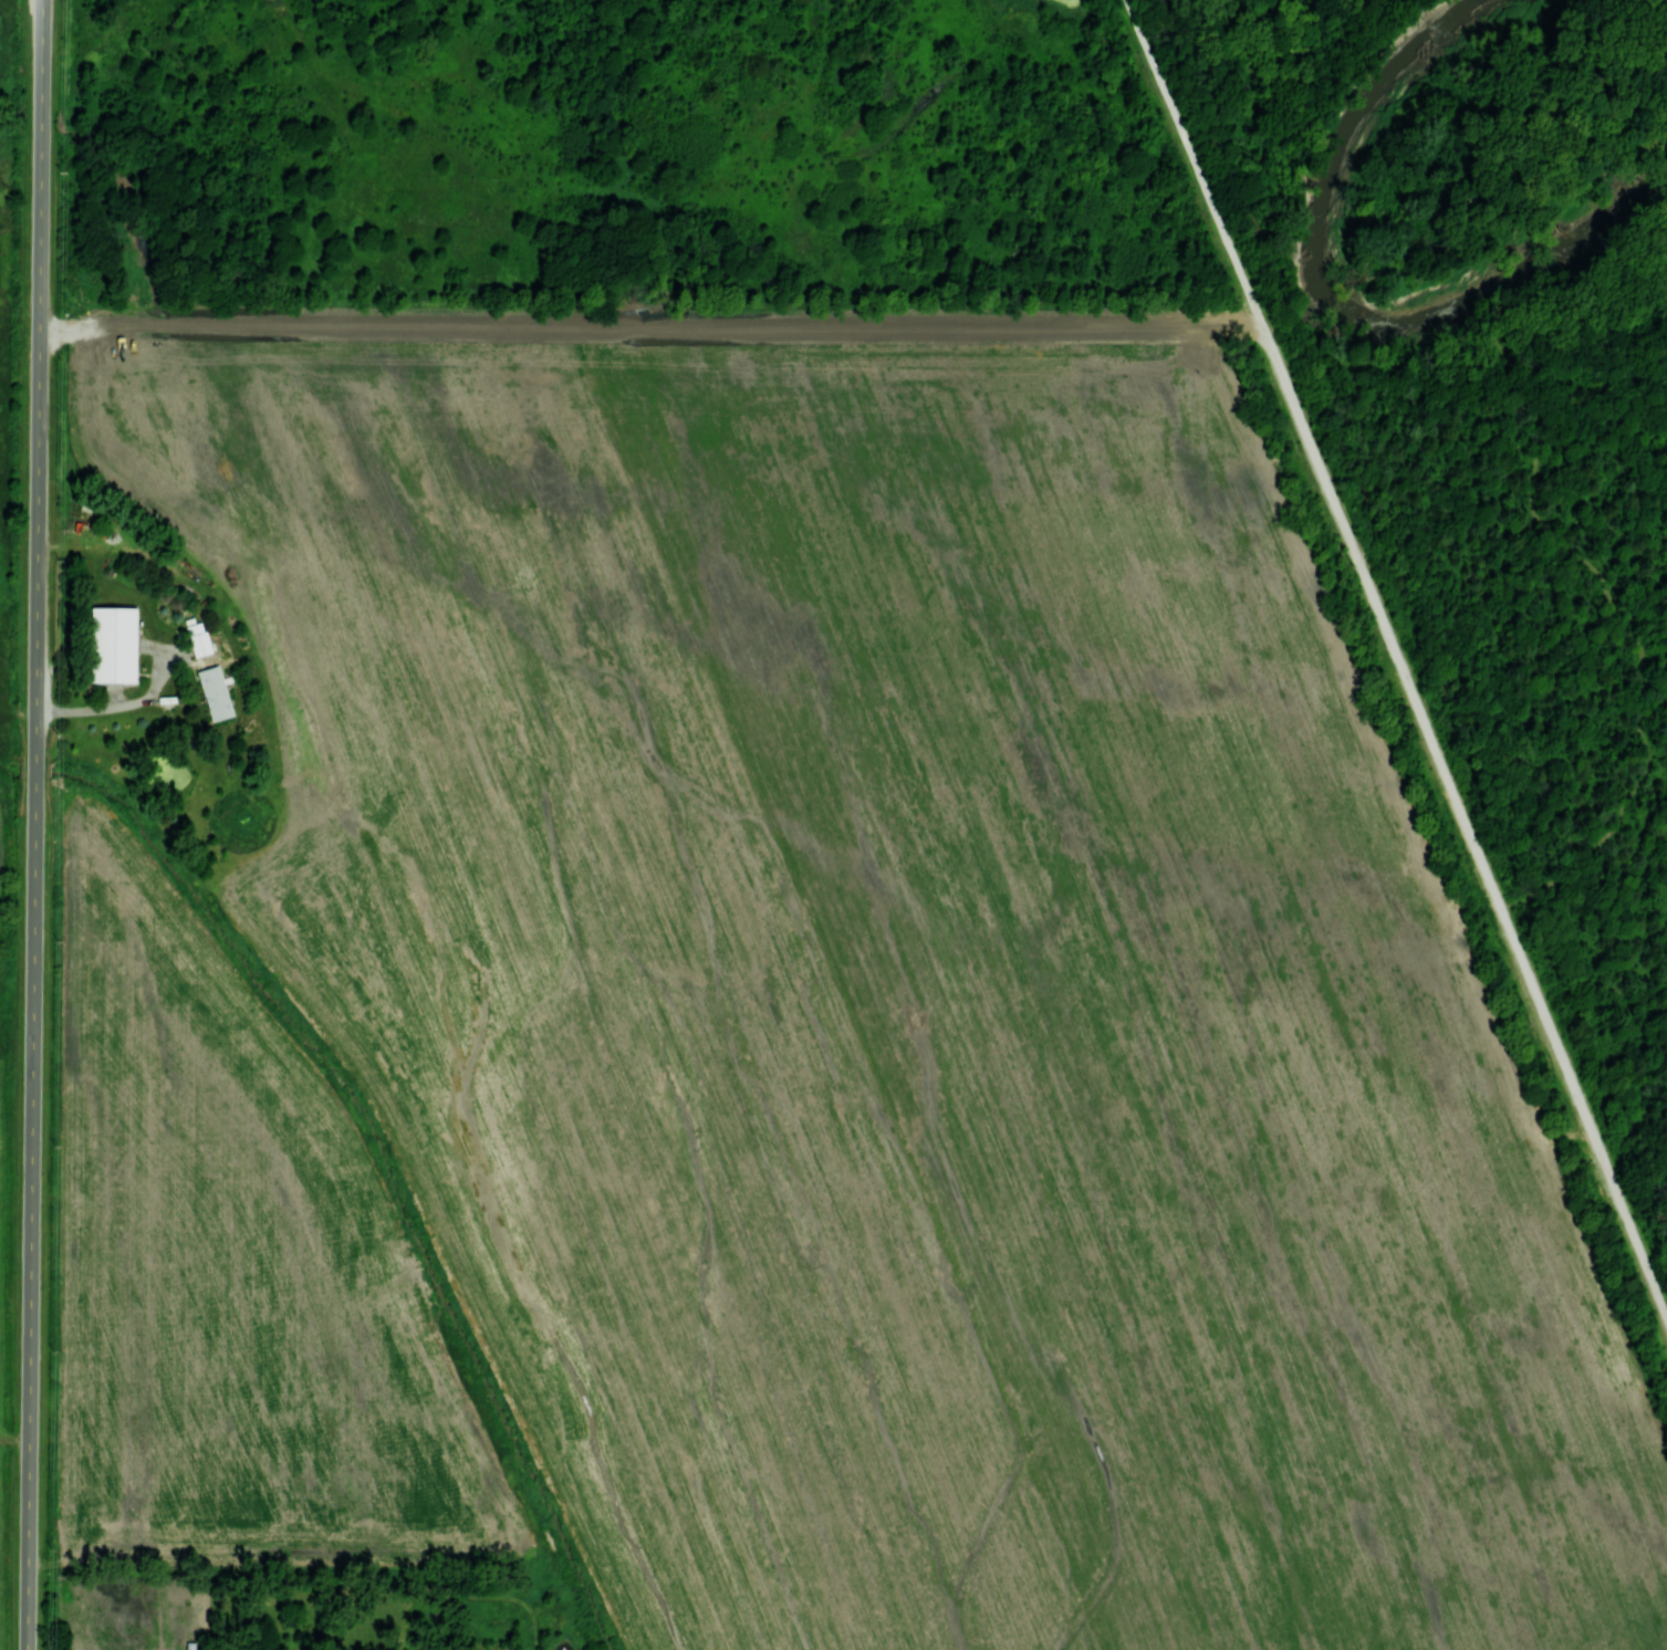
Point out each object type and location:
road: (40, 157)
river: (1340, 303)
road: (1312, 332)
road: (1628, 626)
building: (198, 638)
building: (113, 644)
road: (1397, 656)
building: (215, 692)
road: (117, 704)
park: (968, 838)
road: (33, 982)

